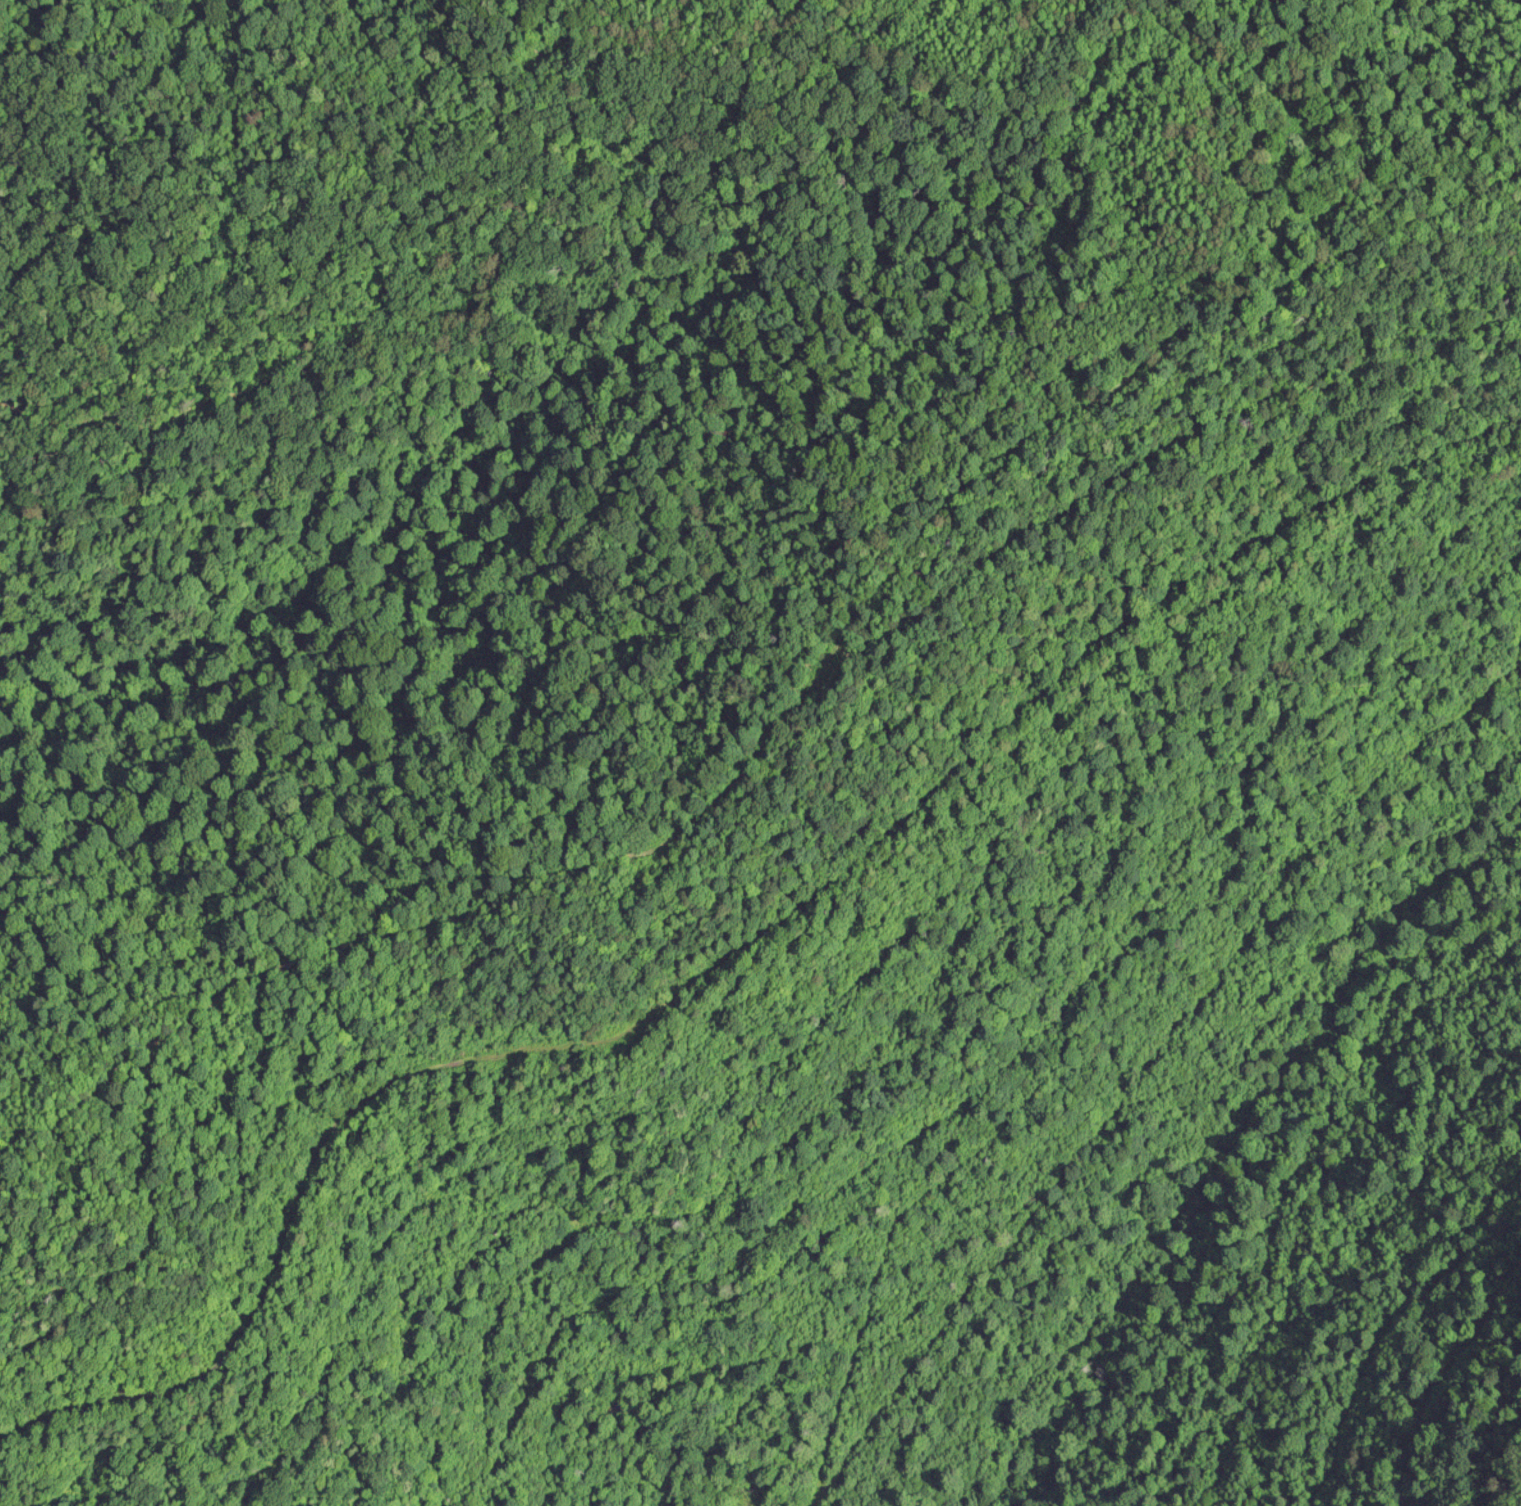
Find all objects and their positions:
quarry: (32, 1409)

